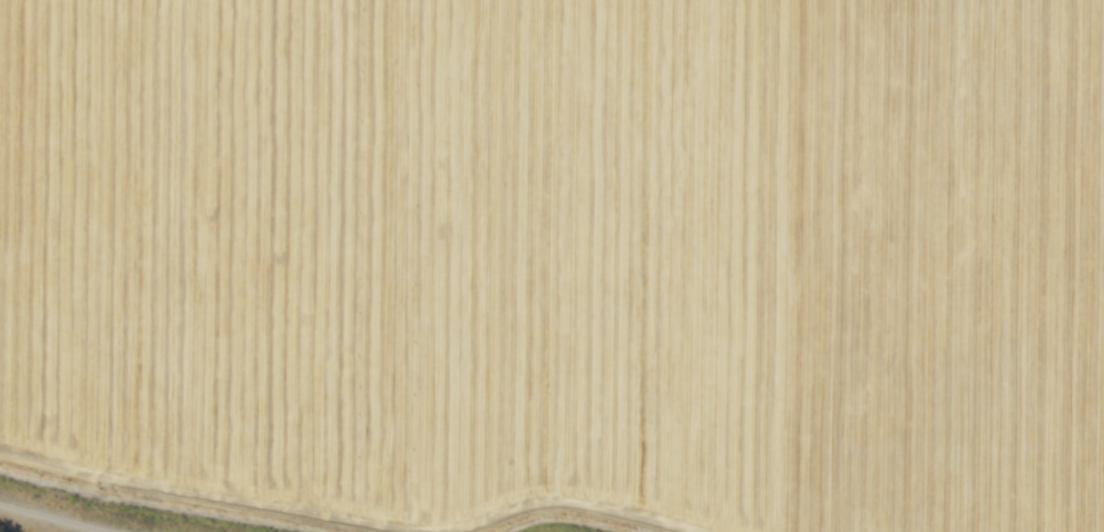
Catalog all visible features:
road: (52, 516)

